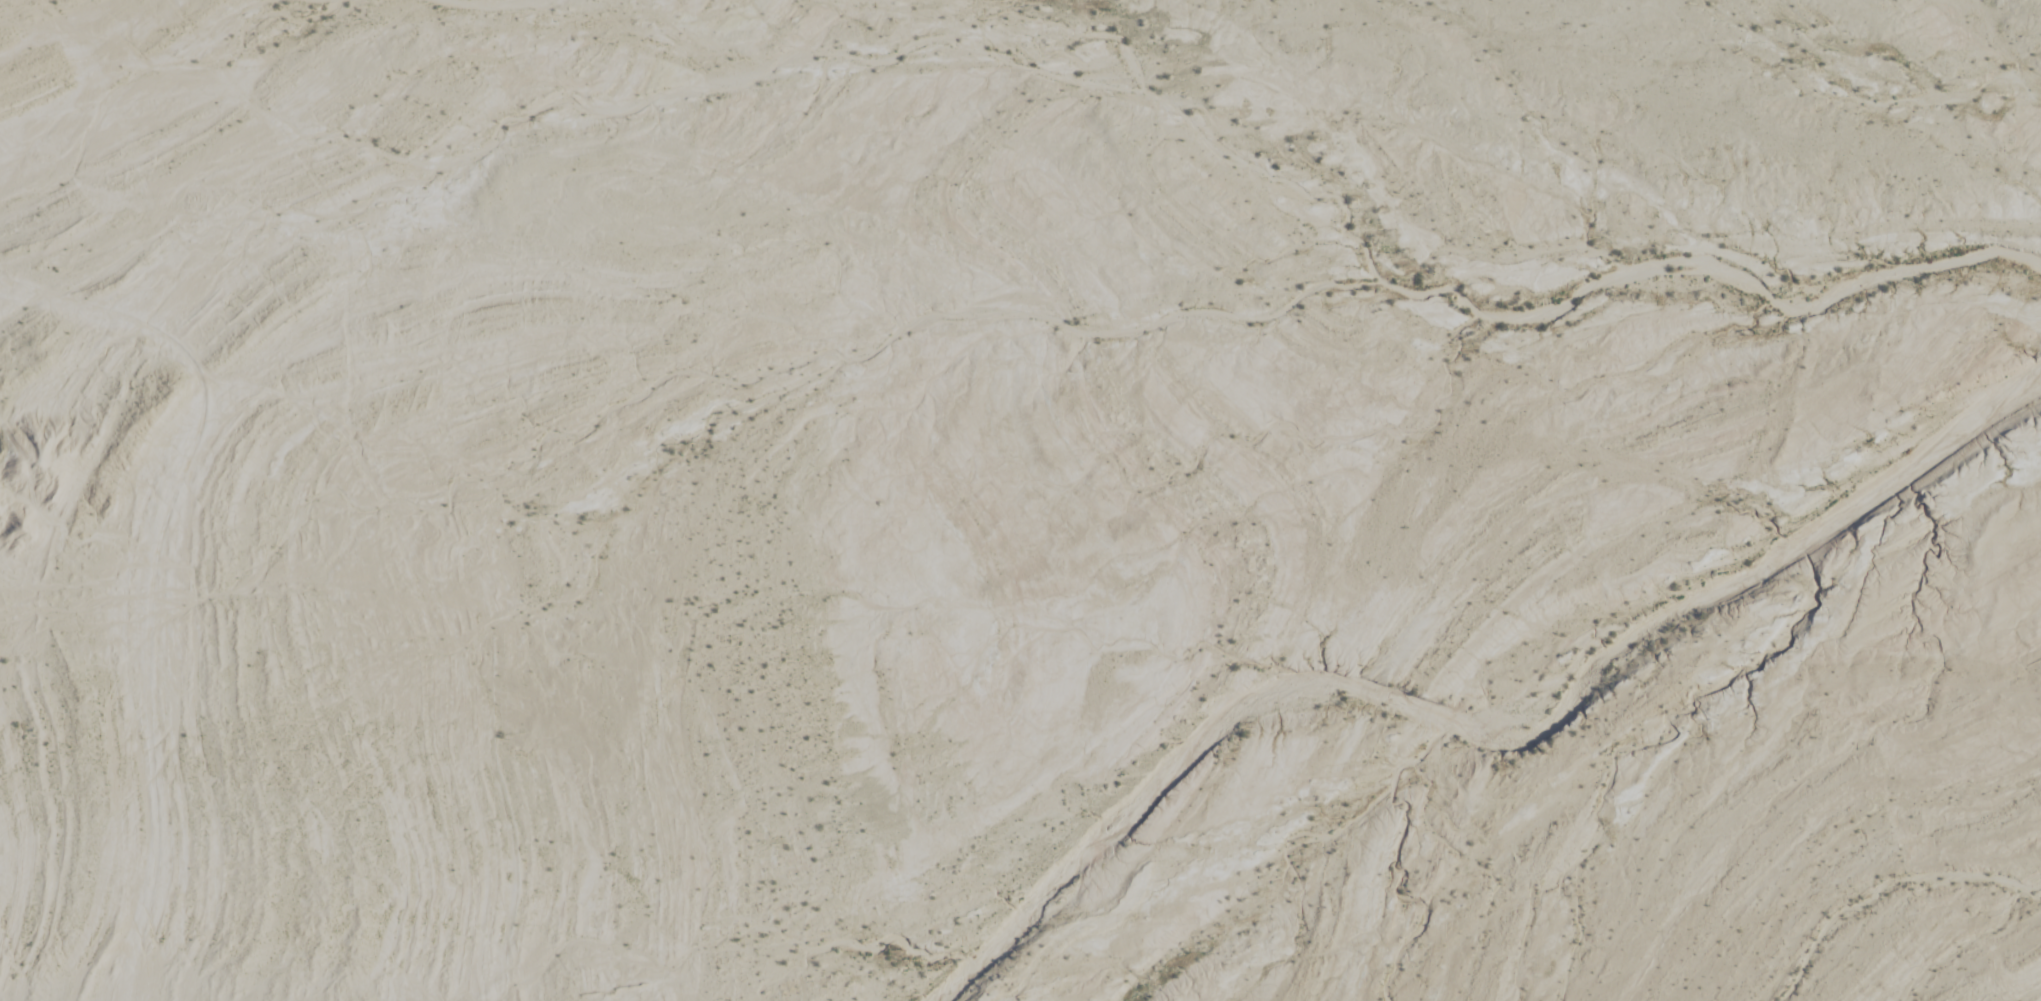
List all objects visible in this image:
road: (151, 570)

